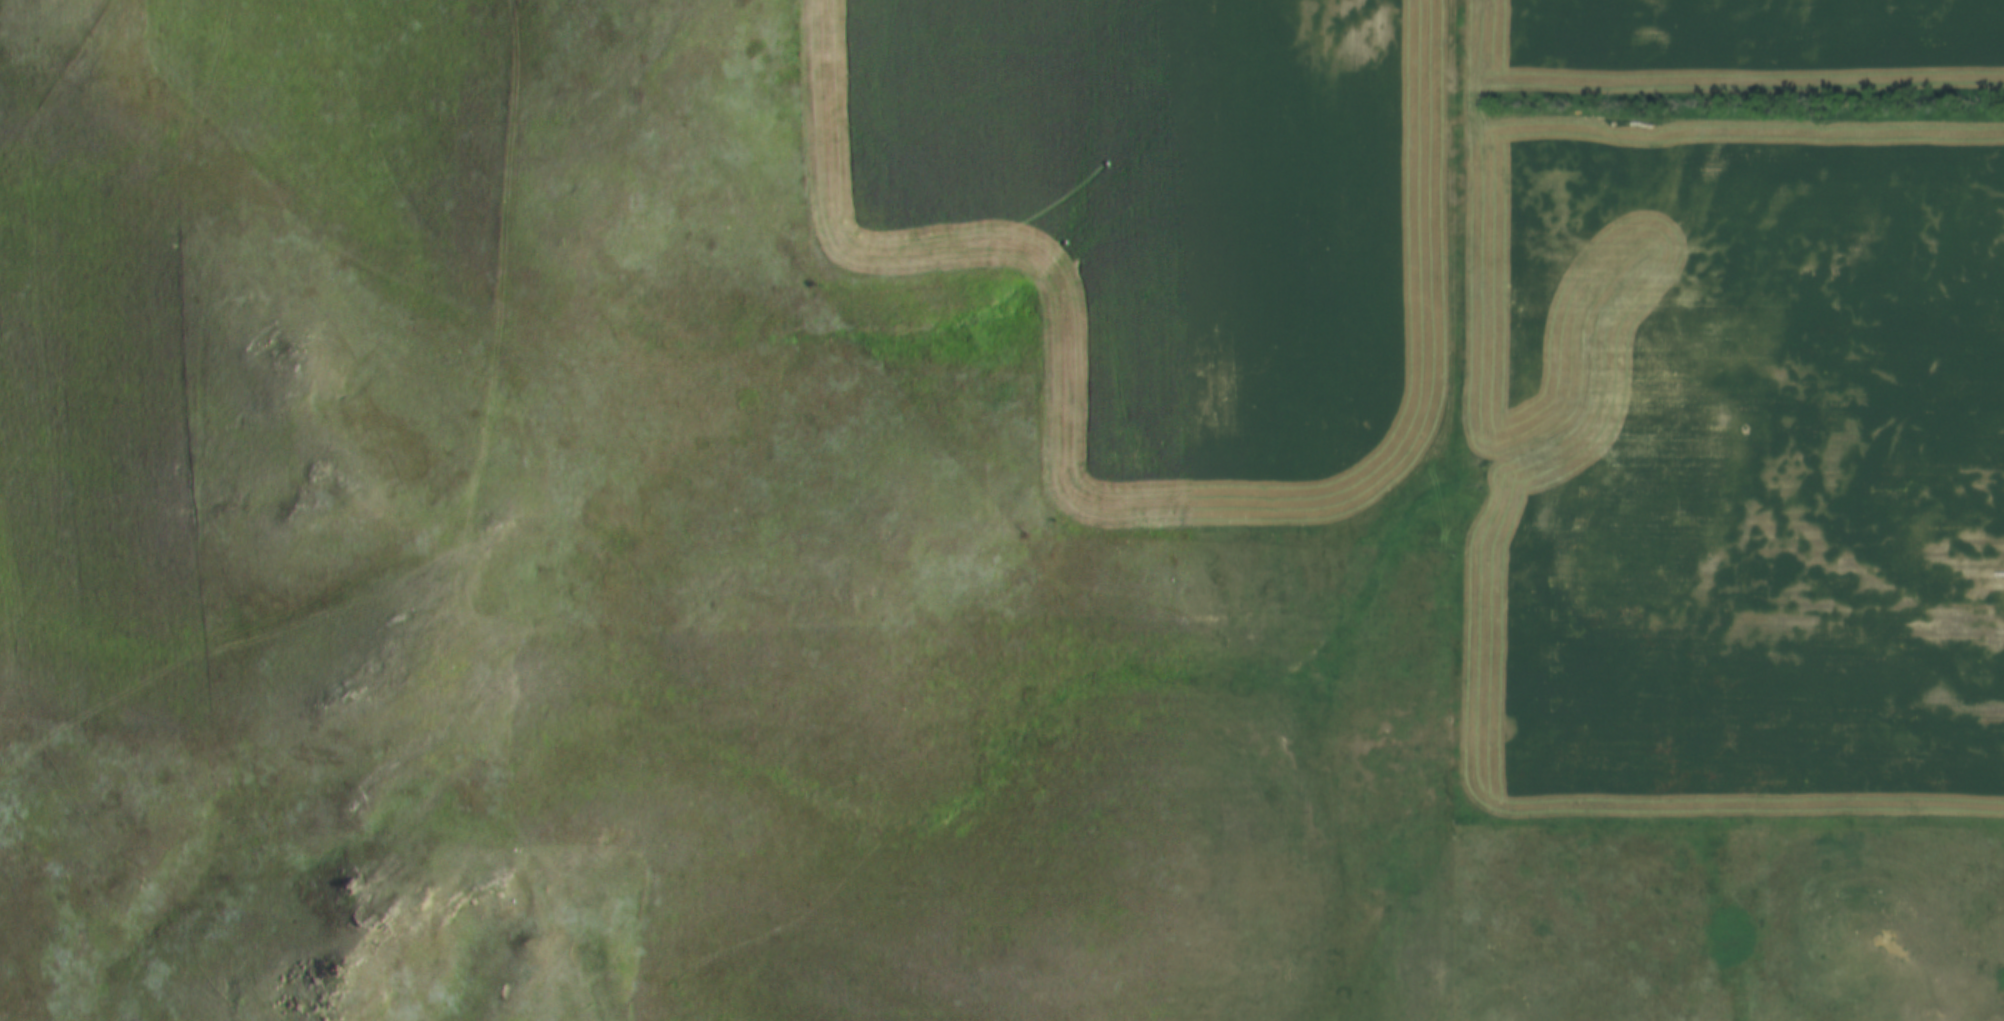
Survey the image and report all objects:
road: (12, 628)

